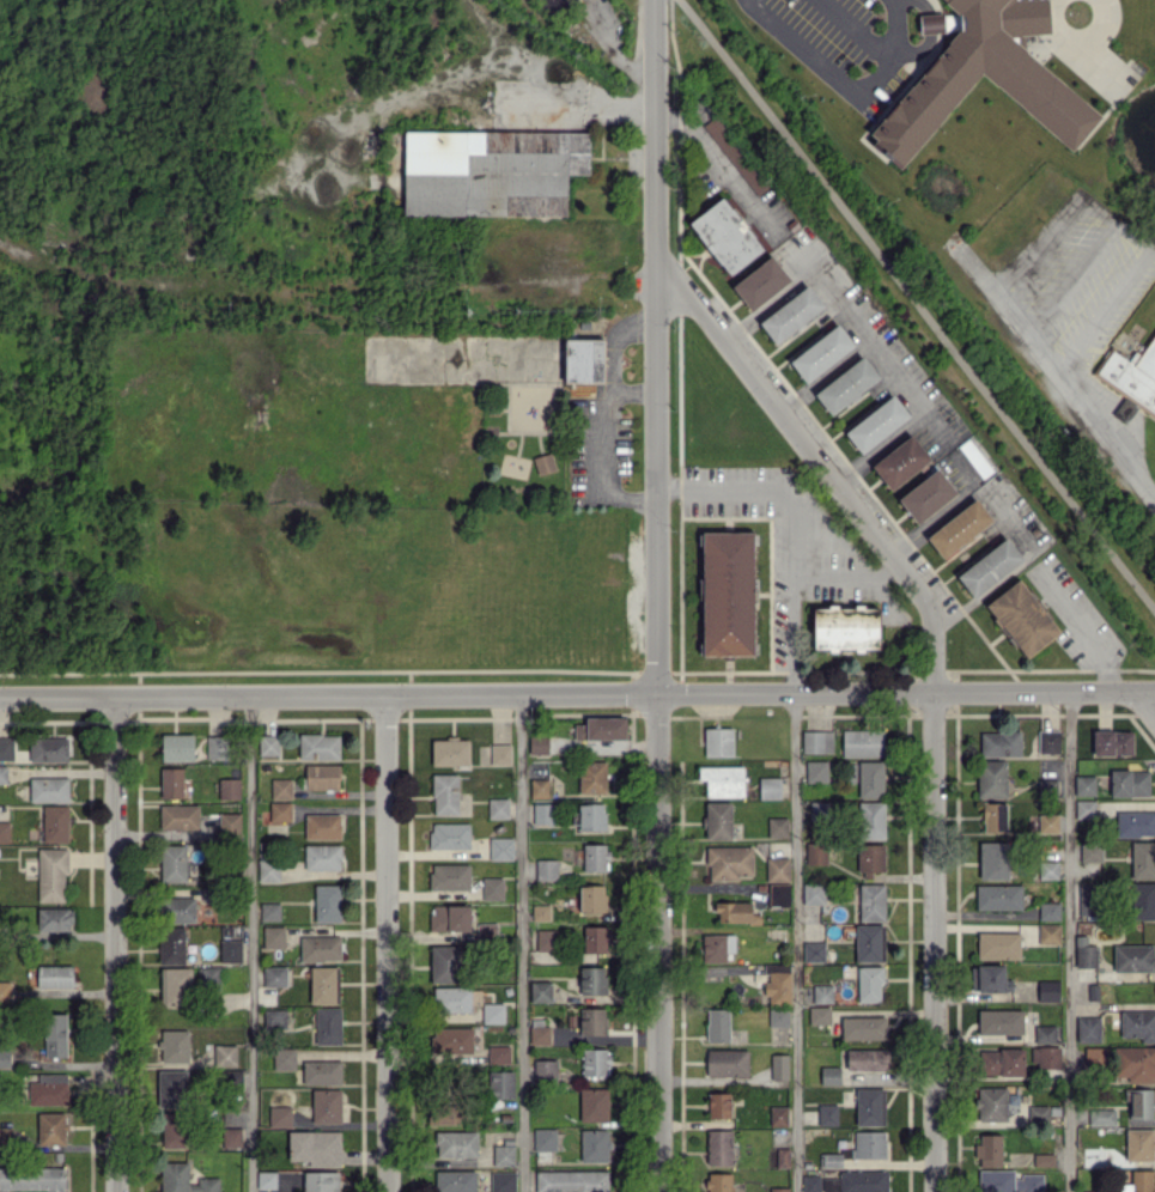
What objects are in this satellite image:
building: (555, 0)
road: (862, 20)
building: (931, 23)
road: (1086, 23)
road: (835, 69)
building: (985, 77)
building: (736, 154)
building: (491, 171)
road: (1123, 229)
building: (725, 236)
road: (1070, 278)
building: (760, 282)
road: (323, 294)
road: (917, 304)
building: (791, 314)
road: (864, 335)
road: (610, 339)
building: (821, 353)
building: (583, 360)
road: (820, 373)
building: (1131, 376)
building: (846, 385)
road: (632, 390)
road: (1075, 393)
building: (876, 424)
building: (974, 457)
building: (900, 462)
building: (543, 463)
road: (606, 467)
road: (822, 468)
building: (926, 495)
building: (959, 528)
road: (789, 529)
building: (989, 566)
road: (841, 572)
building: (727, 592)
road: (655, 596)
building: (1022, 618)
building: (845, 627)
road: (577, 693)
road: (1145, 703)
building: (601, 729)
building: (718, 741)
building: (816, 741)
building: (1048, 741)
building: (862, 742)
building: (1112, 742)
building: (1001, 743)
building: (268, 744)
building: (537, 744)
building: (318, 746)
building: (177, 747)
building: (217, 747)
building: (6, 748)
building: (48, 749)
building: (450, 752)
building: (500, 754)
building: (816, 771)
building: (2, 773)
building: (322, 777)
building: (591, 777)
building: (991, 778)
building: (870, 779)
building: (722, 780)
building: (171, 782)
building: (1129, 783)
building: (1084, 785)
building: (280, 787)
building: (539, 787)
building: (770, 787)
building: (48, 789)
building: (229, 789)
building: (445, 793)
building: (498, 808)
building: (1086, 809)
building: (280, 811)
building: (543, 813)
building: (178, 816)
building: (591, 816)
building: (993, 816)
building: (718, 820)
building: (870, 820)
building: (1047, 822)
building: (55, 823)
building: (230, 823)
building: (1135, 823)
building: (322, 826)
building: (777, 827)
building: (4, 832)
building: (449, 835)
building: (500, 849)
building: (815, 852)
building: (1090, 852)
building: (322, 856)
building: (595, 857)
building: (870, 859)
building: (1143, 859)
building: (993, 860)
building: (730, 862)
building: (172, 863)
building: (546, 869)
building: (777, 869)
building: (1047, 869)
building: (268, 870)
building: (51, 875)
building: (449, 876)
building: (492, 888)
building: (813, 893)
building: (778, 894)
building: (998, 896)
building: (591, 898)
building: (1088, 899)
building: (1143, 900)
building: (871, 901)
building: (327, 902)
building: (176, 910)
building: (269, 911)
building: (1048, 911)
building: (541, 912)
building: (735, 912)
building: (450, 917)
building: (54, 922)
building: (486, 931)
building: (1048, 933)
building: (273, 936)
building: (595, 938)
building: (546, 939)
road: (931, 941)
road: (1069, 941)
road: (521, 942)
road: (795, 942)
building: (868, 942)
road: (251, 943)
road: (387, 943)
road: (114, 944)
building: (998, 944)
building: (171, 945)
building: (716, 947)
building: (320, 948)
building: (230, 950)
building: (813, 951)
building: (1086, 955)
building: (1133, 957)
building: (445, 963)
building: (274, 975)
building: (54, 977)
building: (989, 978)
building: (591, 980)
building: (323, 984)
building: (777, 984)
building: (869, 984)
building: (175, 986)
building: (5, 990)
building: (1048, 990)
building: (540, 991)
building: (822, 993)
building: (451, 999)
building: (492, 1012)
building: (819, 1015)
building: (778, 1016)
building: (274, 1018)
building: (592, 1021)
building: (999, 1021)
building: (717, 1024)
building: (1138, 1024)
building: (328, 1026)
building: (863, 1027)
building: (1088, 1029)
building: (1045, 1033)
building: (539, 1034)
building: (54, 1035)
building: (451, 1040)
building: (174, 1045)
building: (224, 1054)
building: (498, 1054)
building: (1045, 1057)
building: (1094, 1057)
building: (284, 1058)
building: (867, 1059)
building: (595, 1062)
building: (727, 1062)
building: (1001, 1062)
building: (1136, 1063)
building: (778, 1066)
building: (545, 1070)
building: (322, 1072)
building: (829, 1075)
building: (501, 1084)
building: (172, 1088)
building: (48, 1089)
building: (993, 1102)
building: (1139, 1102)
building: (594, 1105)
building: (718, 1105)
building: (326, 1106)
building: (870, 1106)
building: (443, 1111)
building: (827, 1114)
building: (1038, 1114)
building: (280, 1115)
building: (778, 1115)
building: (1101, 1115)
building: (51, 1127)
building: (172, 1130)
building: (6, 1137)
building: (231, 1137)
building: (545, 1138)
building: (456, 1144)
building: (869, 1144)
building: (1139, 1144)
building: (594, 1145)
building: (315, 1147)
building: (718, 1147)
building: (989, 1149)
building: (504, 1155)
building: (1092, 1156)
building: (831, 1160)
building: (1044, 1160)
building: (32, 1178)
building: (183, 1179)
building: (266, 1180)
building: (454, 1180)
building: (572, 1180)
building: (321, 1181)
building: (503, 1181)
building: (719, 1181)
building: (863, 1181)
building: (1008, 1181)
building: (1138, 1181)
building: (810, 1182)
building: (829, 1184)
building: (779, 1190)
building: (1093, 1191)

